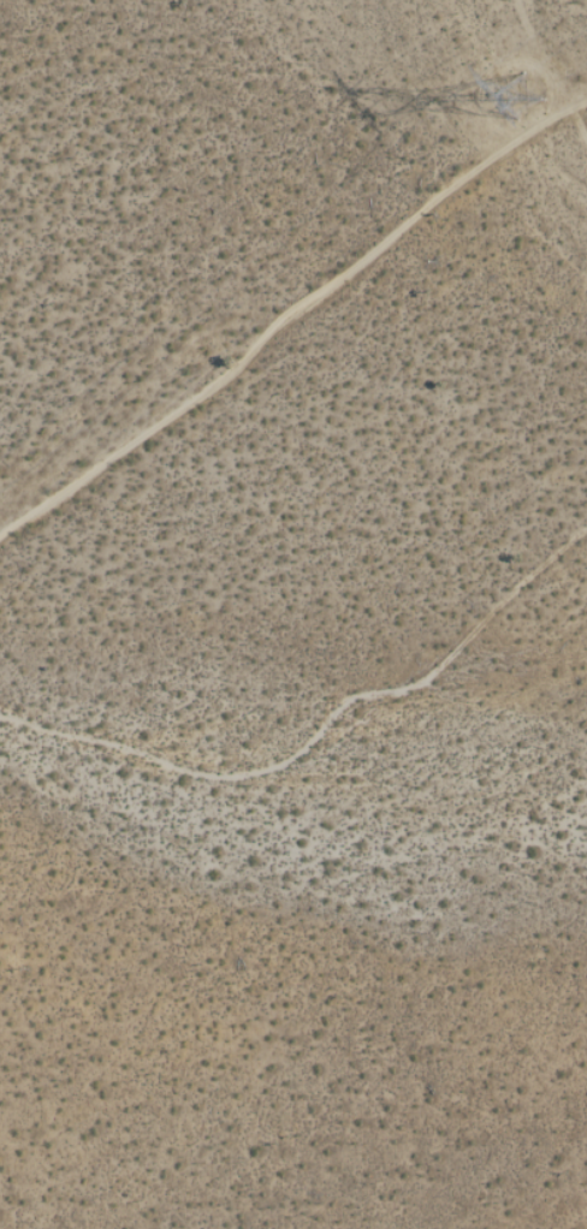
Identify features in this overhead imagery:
power tower: (523, 97)

